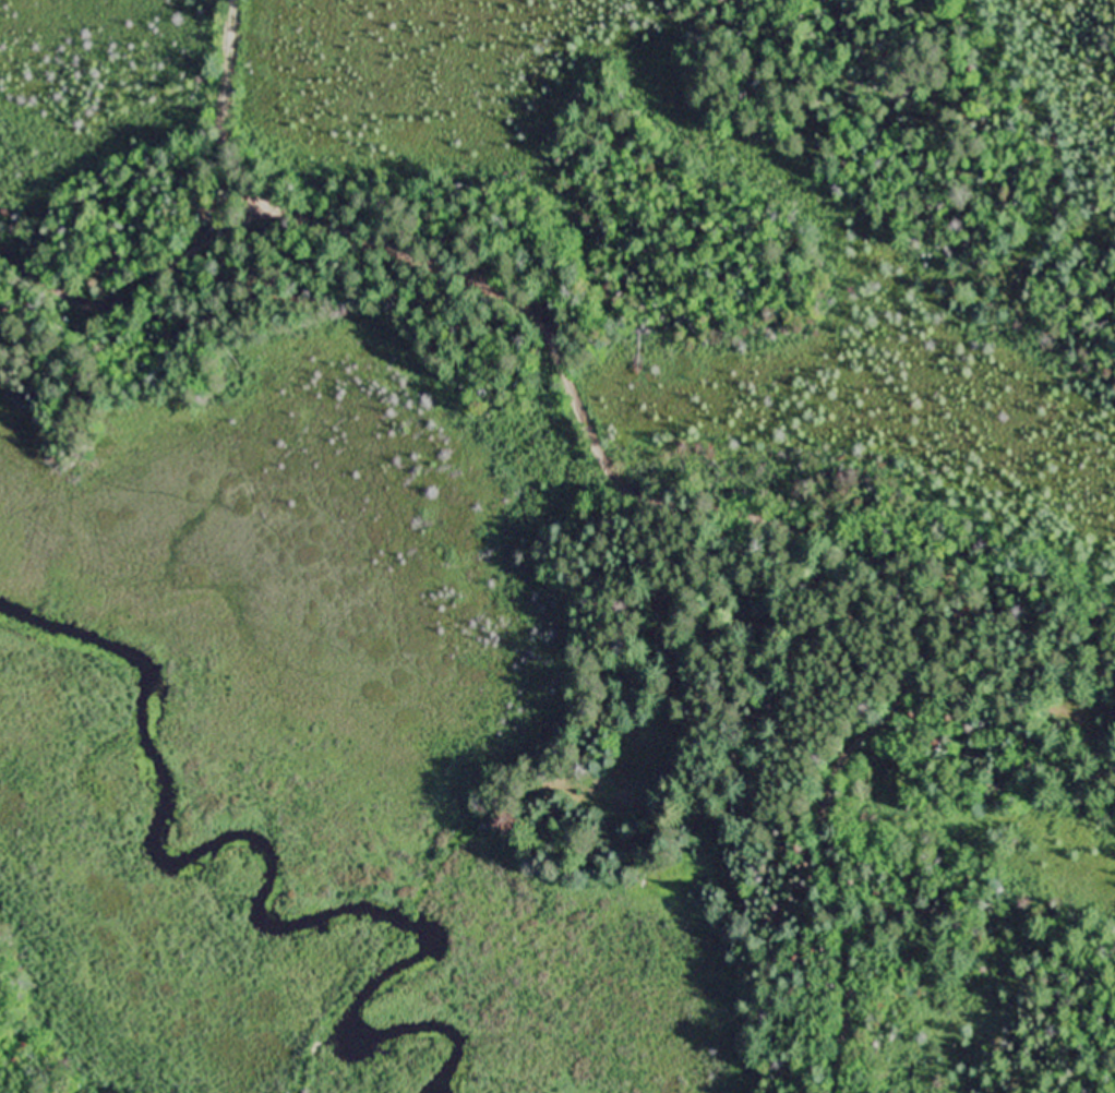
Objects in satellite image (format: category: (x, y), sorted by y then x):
road: (148, 287)
road: (611, 479)
road: (846, 1009)

